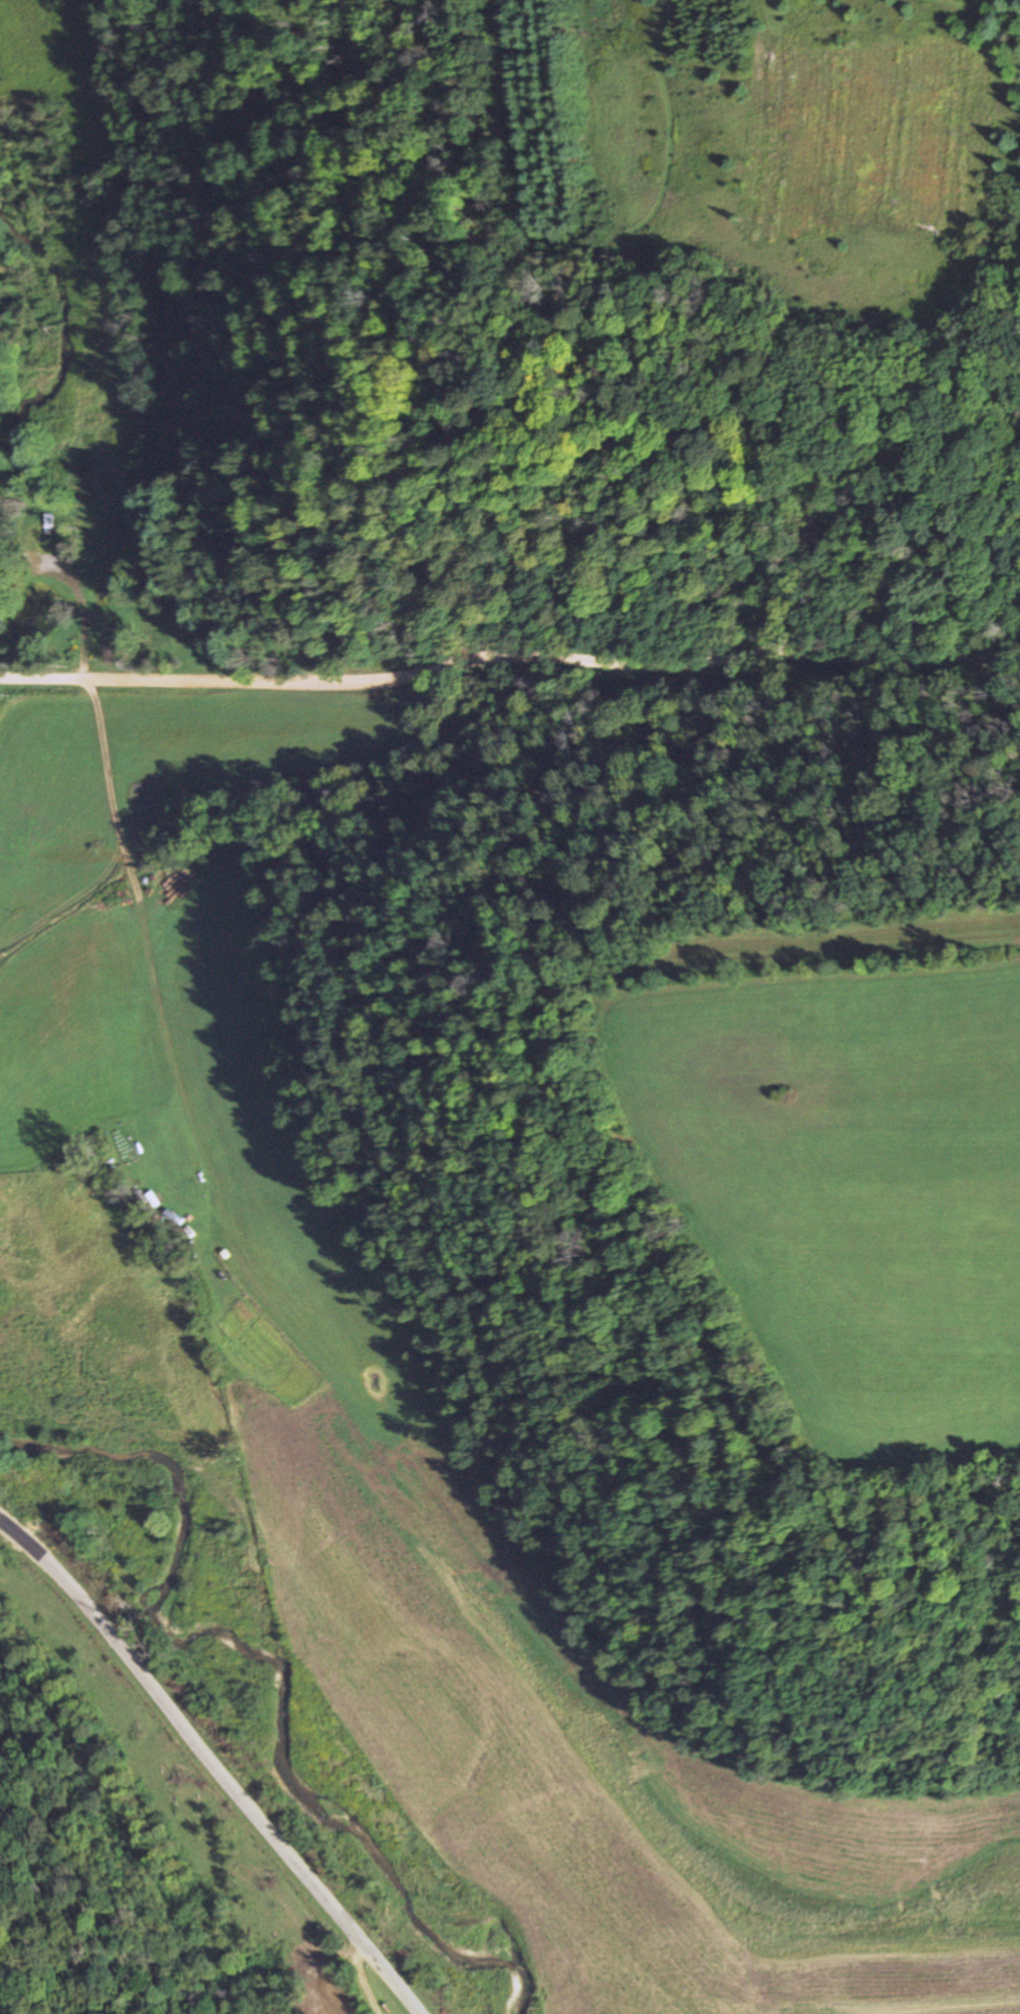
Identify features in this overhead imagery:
building: (40, 535)
building: (164, 624)
road: (509, 655)
road: (214, 1764)

